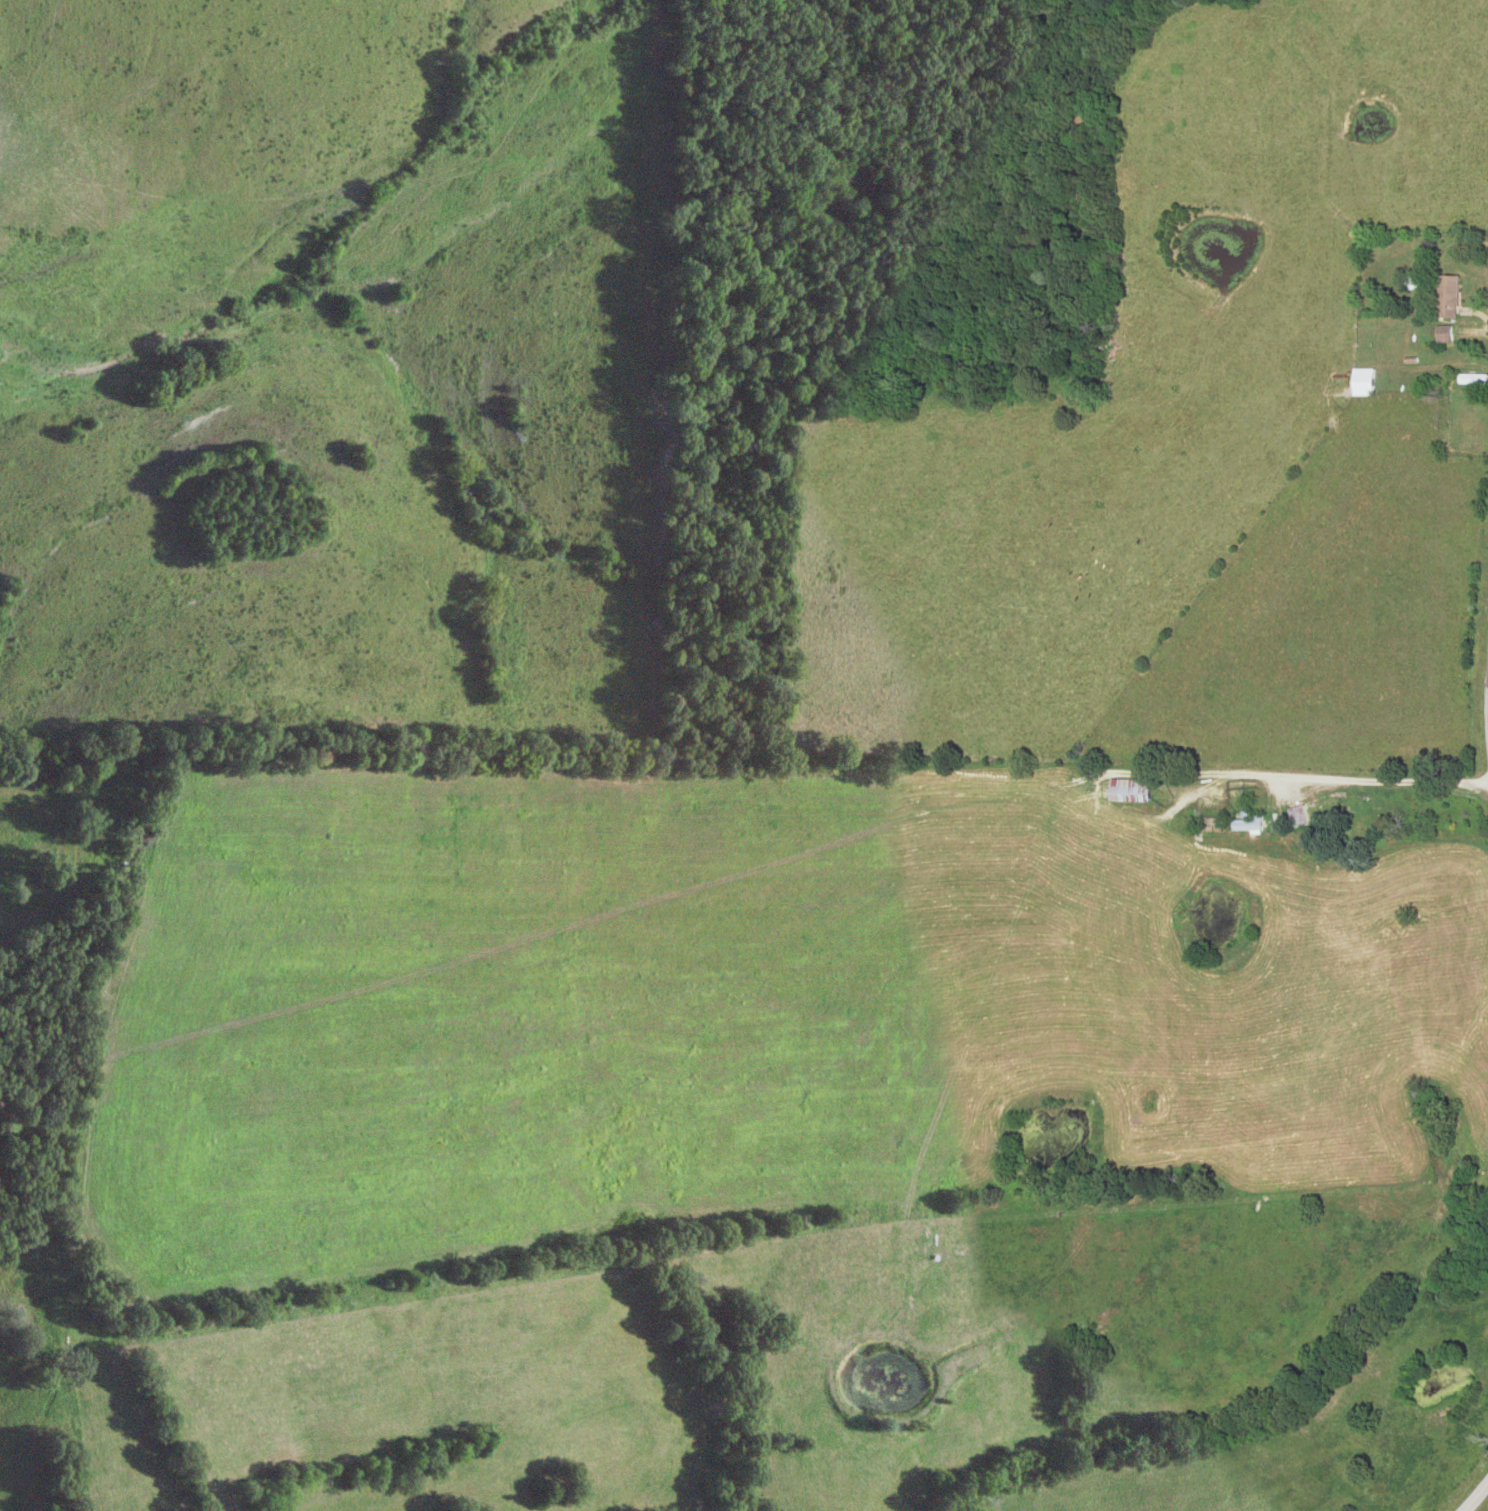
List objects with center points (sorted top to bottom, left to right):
building: (1452, 297)
building: (1445, 334)
building: (1367, 382)
building: (1132, 790)
building: (1250, 823)
road: (1476, 1495)

